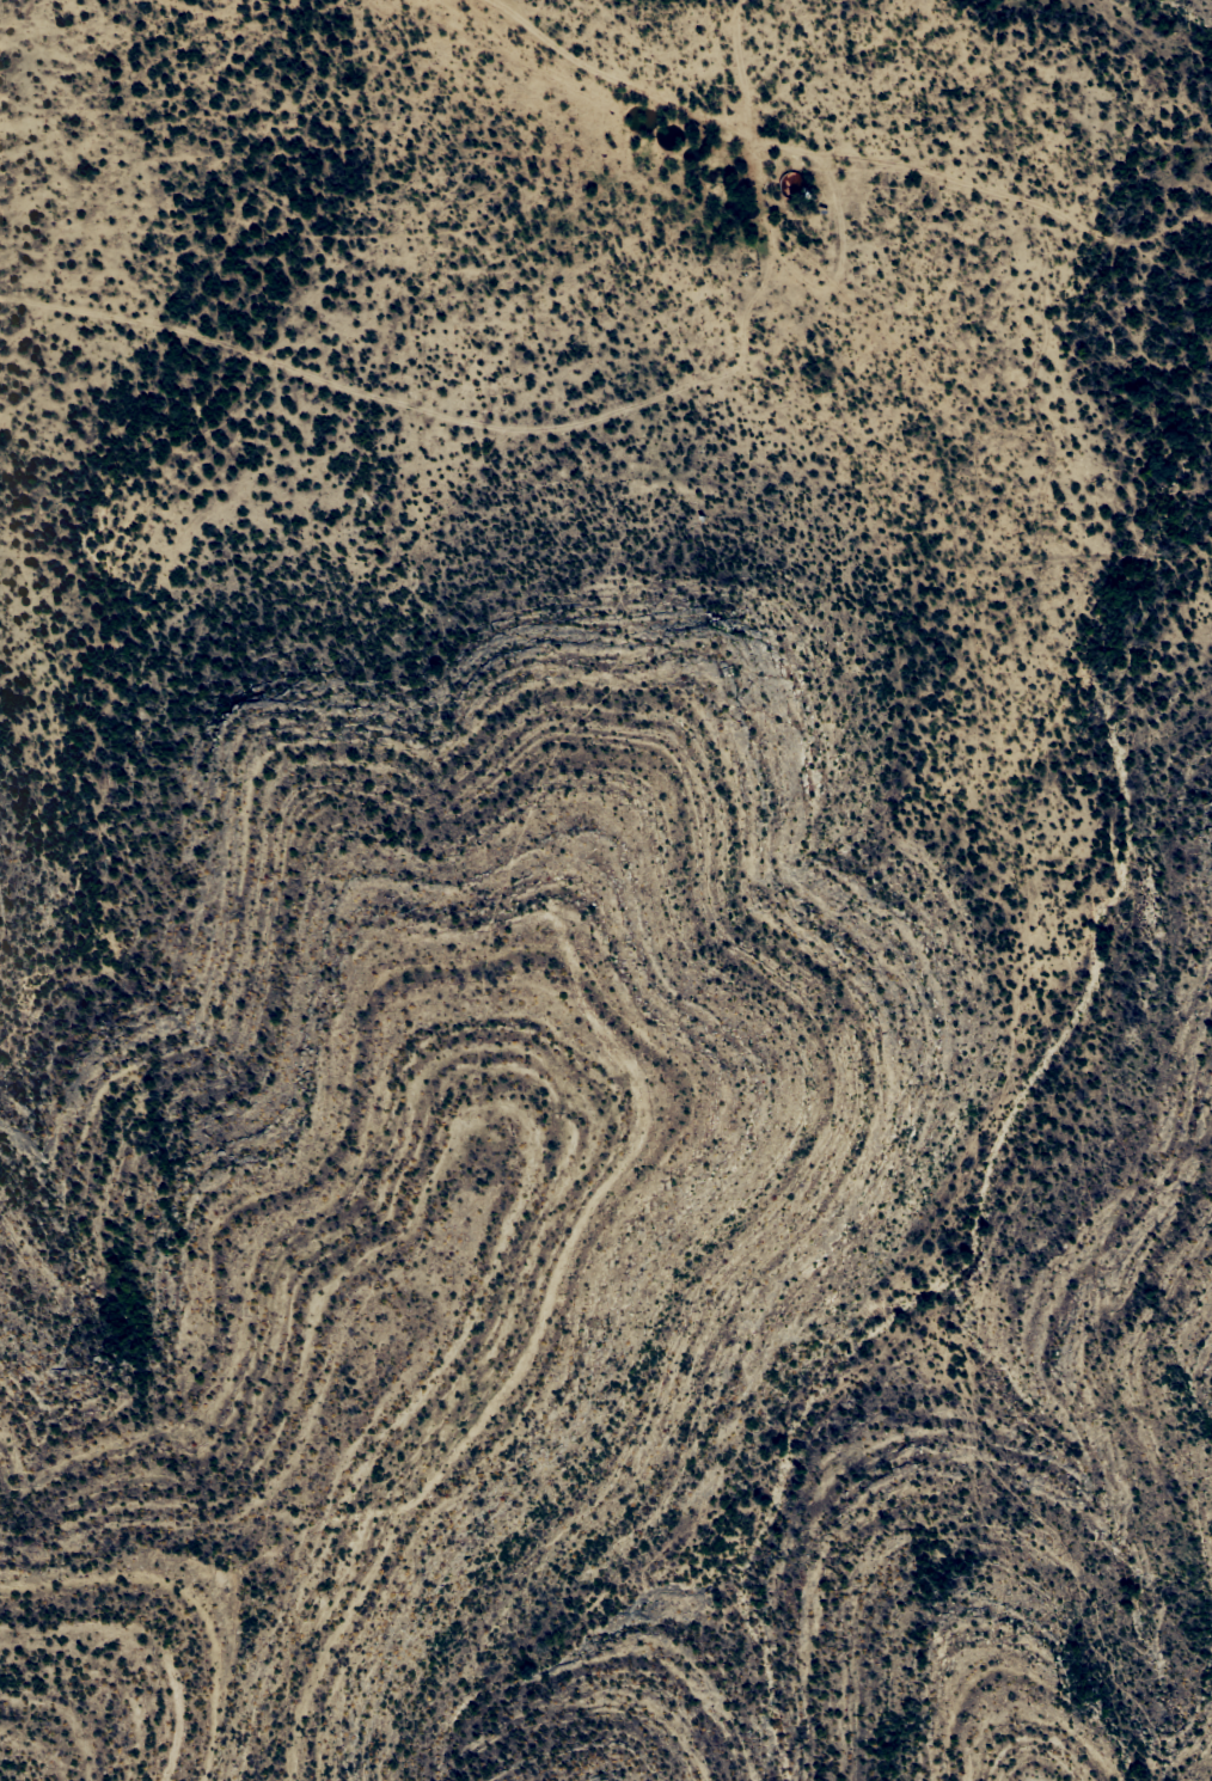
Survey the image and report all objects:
road: (594, 86)

